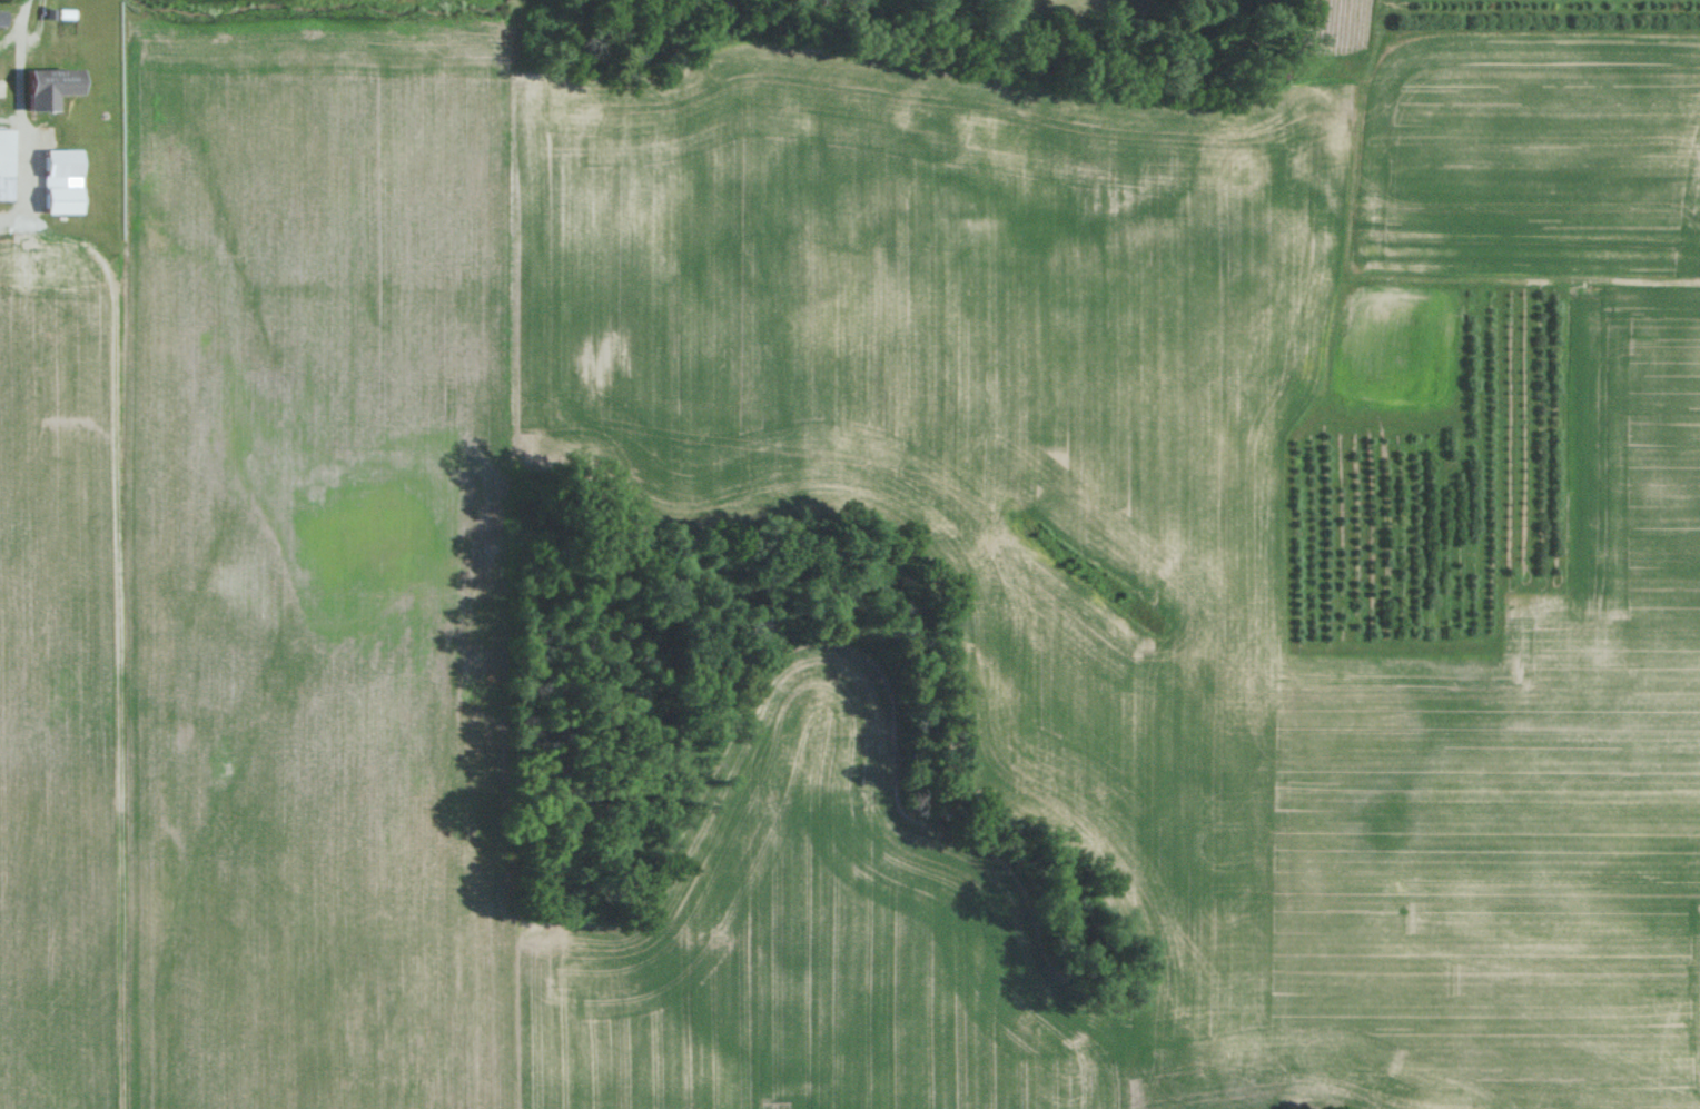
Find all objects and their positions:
road: (20, 10)
road: (8, 31)
road: (16, 79)
building: (41, 88)
building: (55, 162)
building: (2, 164)
road: (22, 176)
building: (55, 199)

